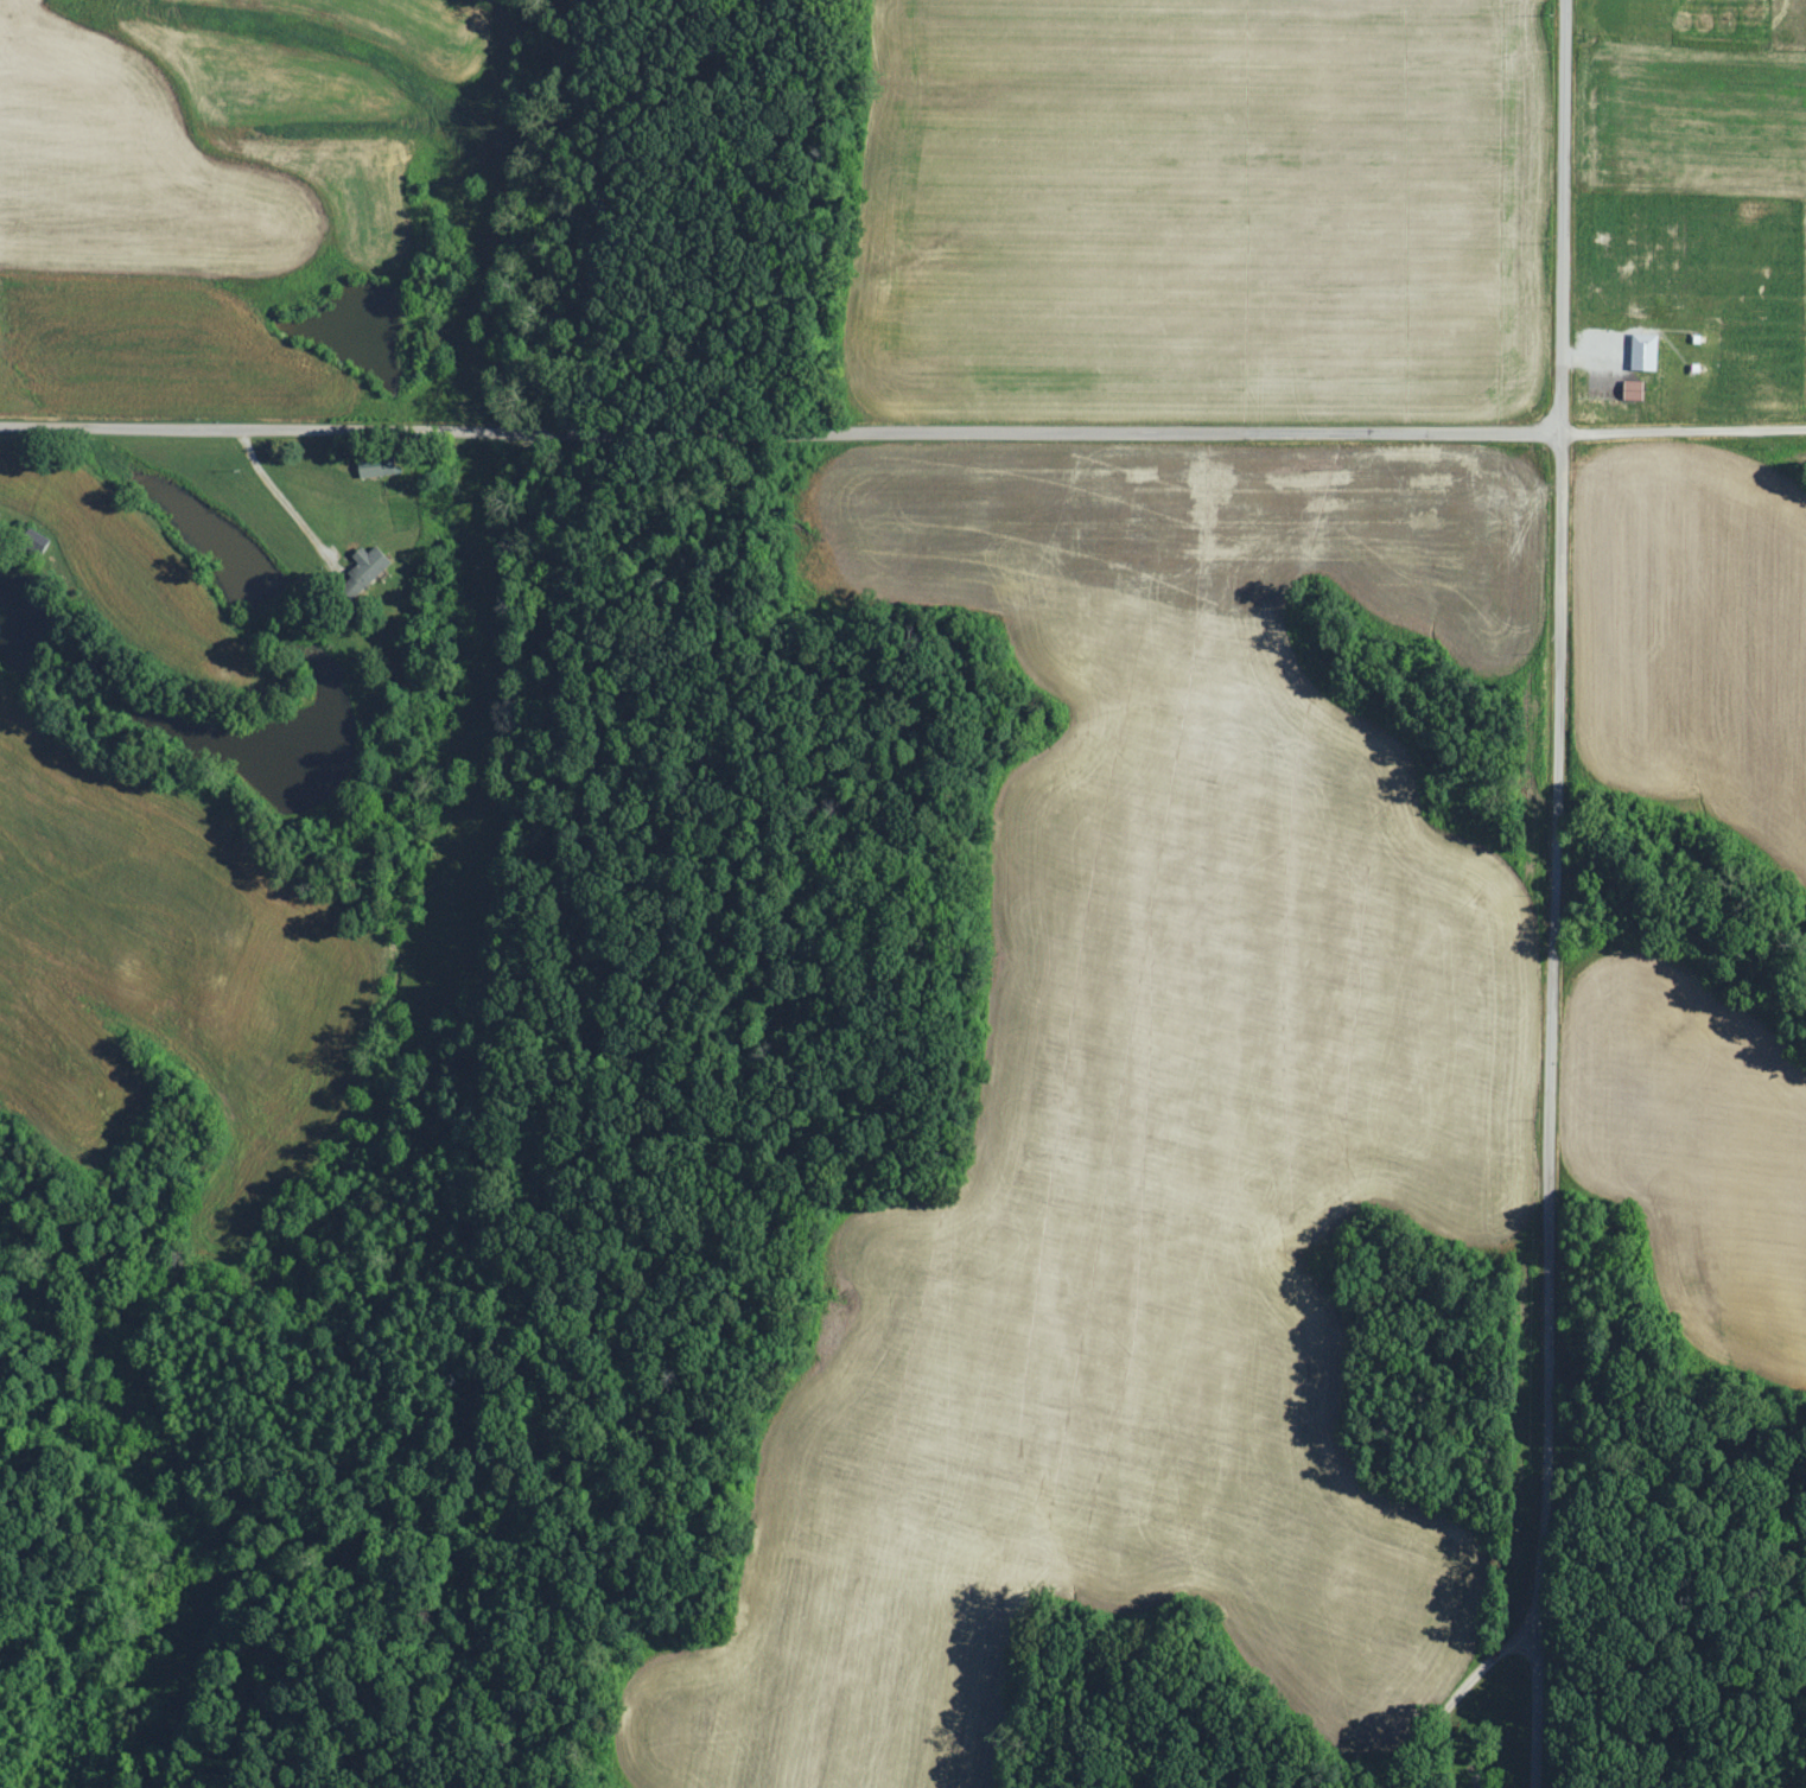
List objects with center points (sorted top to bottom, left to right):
building: (1647, 352)
building: (1636, 390)
road: (1681, 432)
road: (778, 434)
building: (380, 466)
road: (282, 500)
road: (1553, 893)
road: (1454, 1699)

